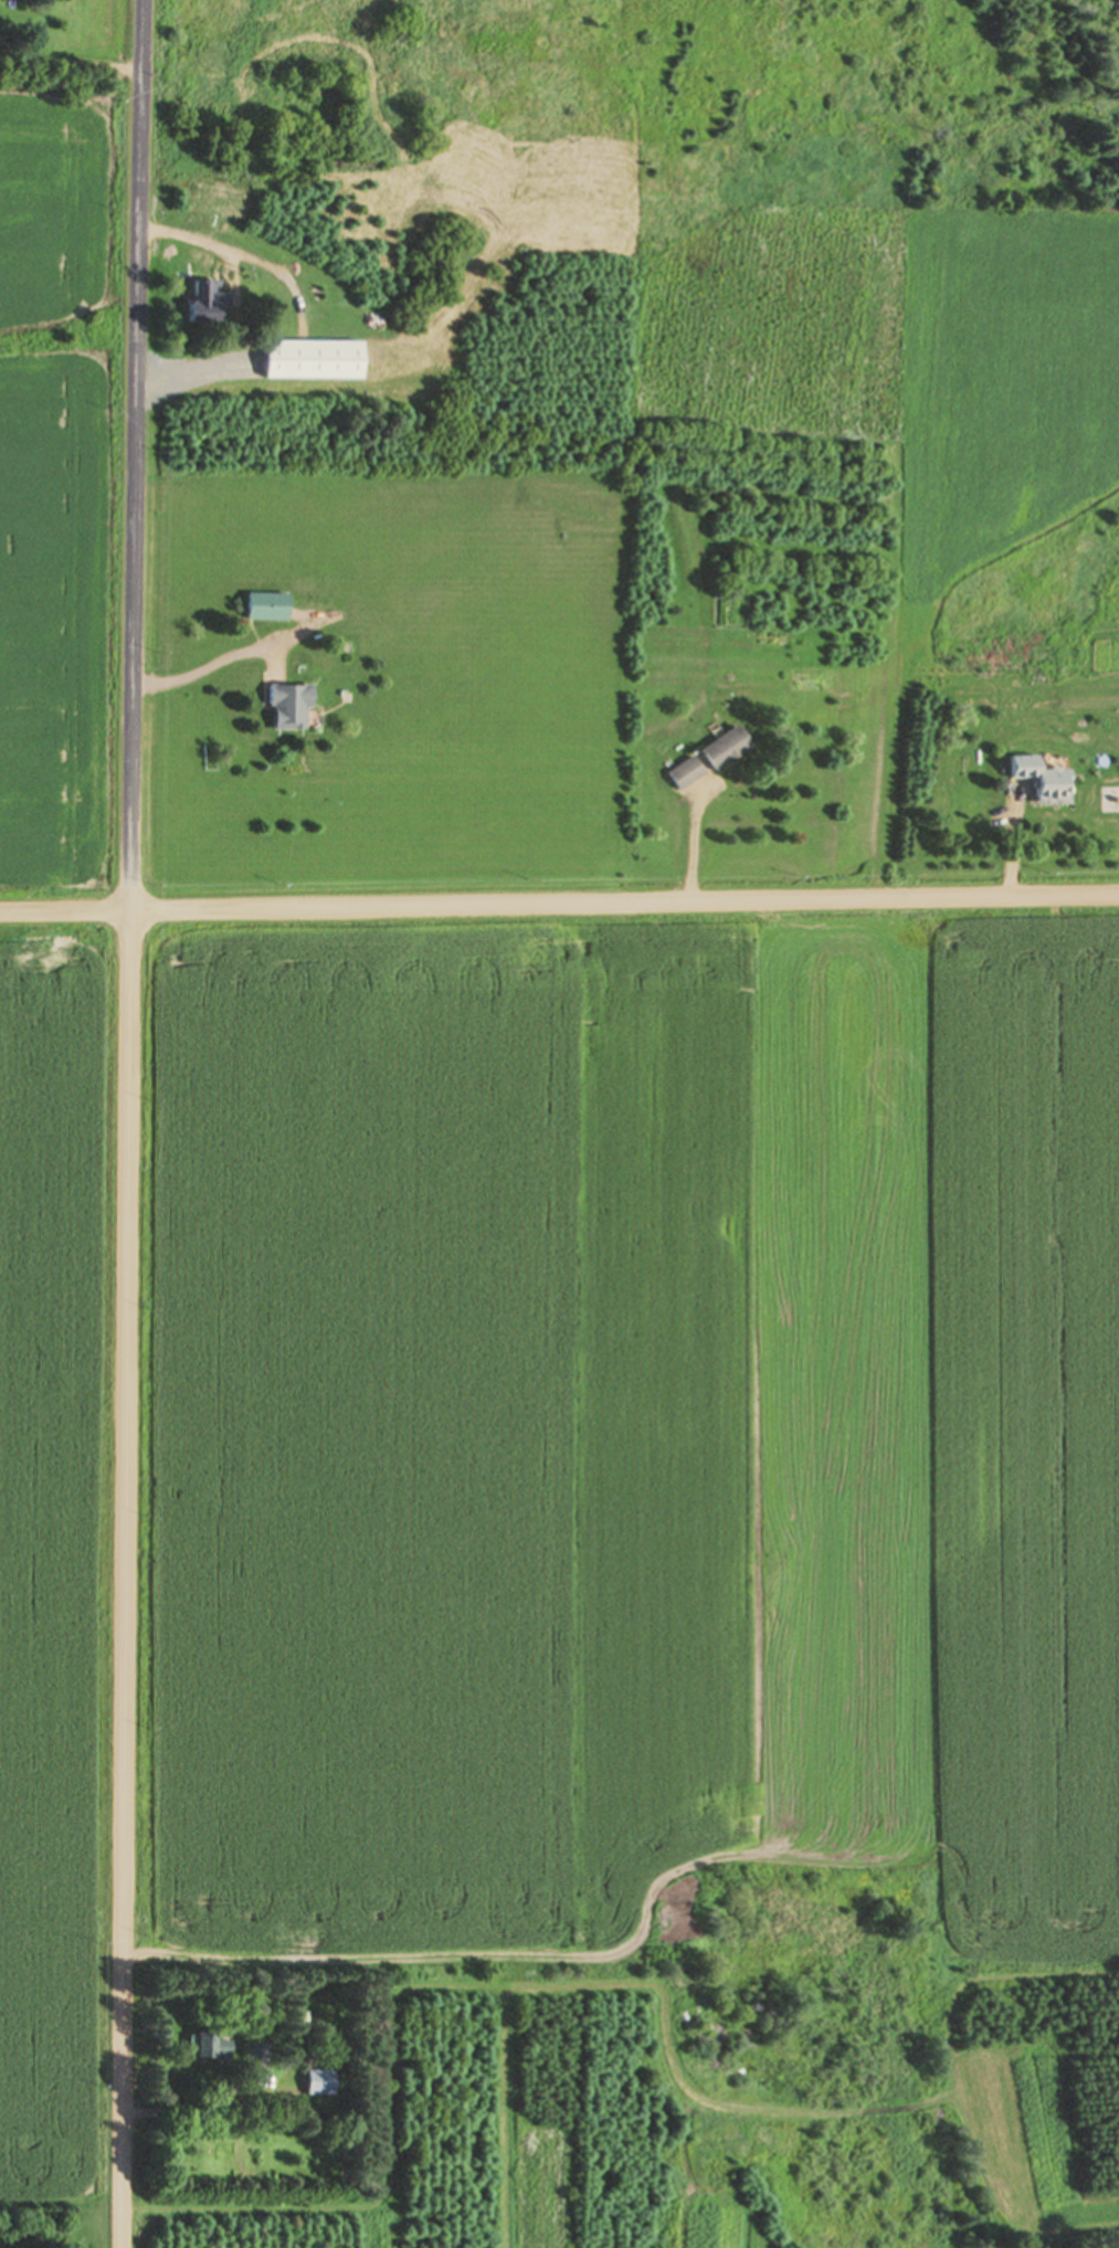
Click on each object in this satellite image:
building: (205, 303)
building: (313, 361)
road: (137, 454)
building: (266, 608)
building: (288, 706)
building: (708, 759)
building: (1042, 781)
road: (559, 910)
road: (125, 1579)
building: (213, 2049)
building: (258, 2059)
building: (319, 2083)

